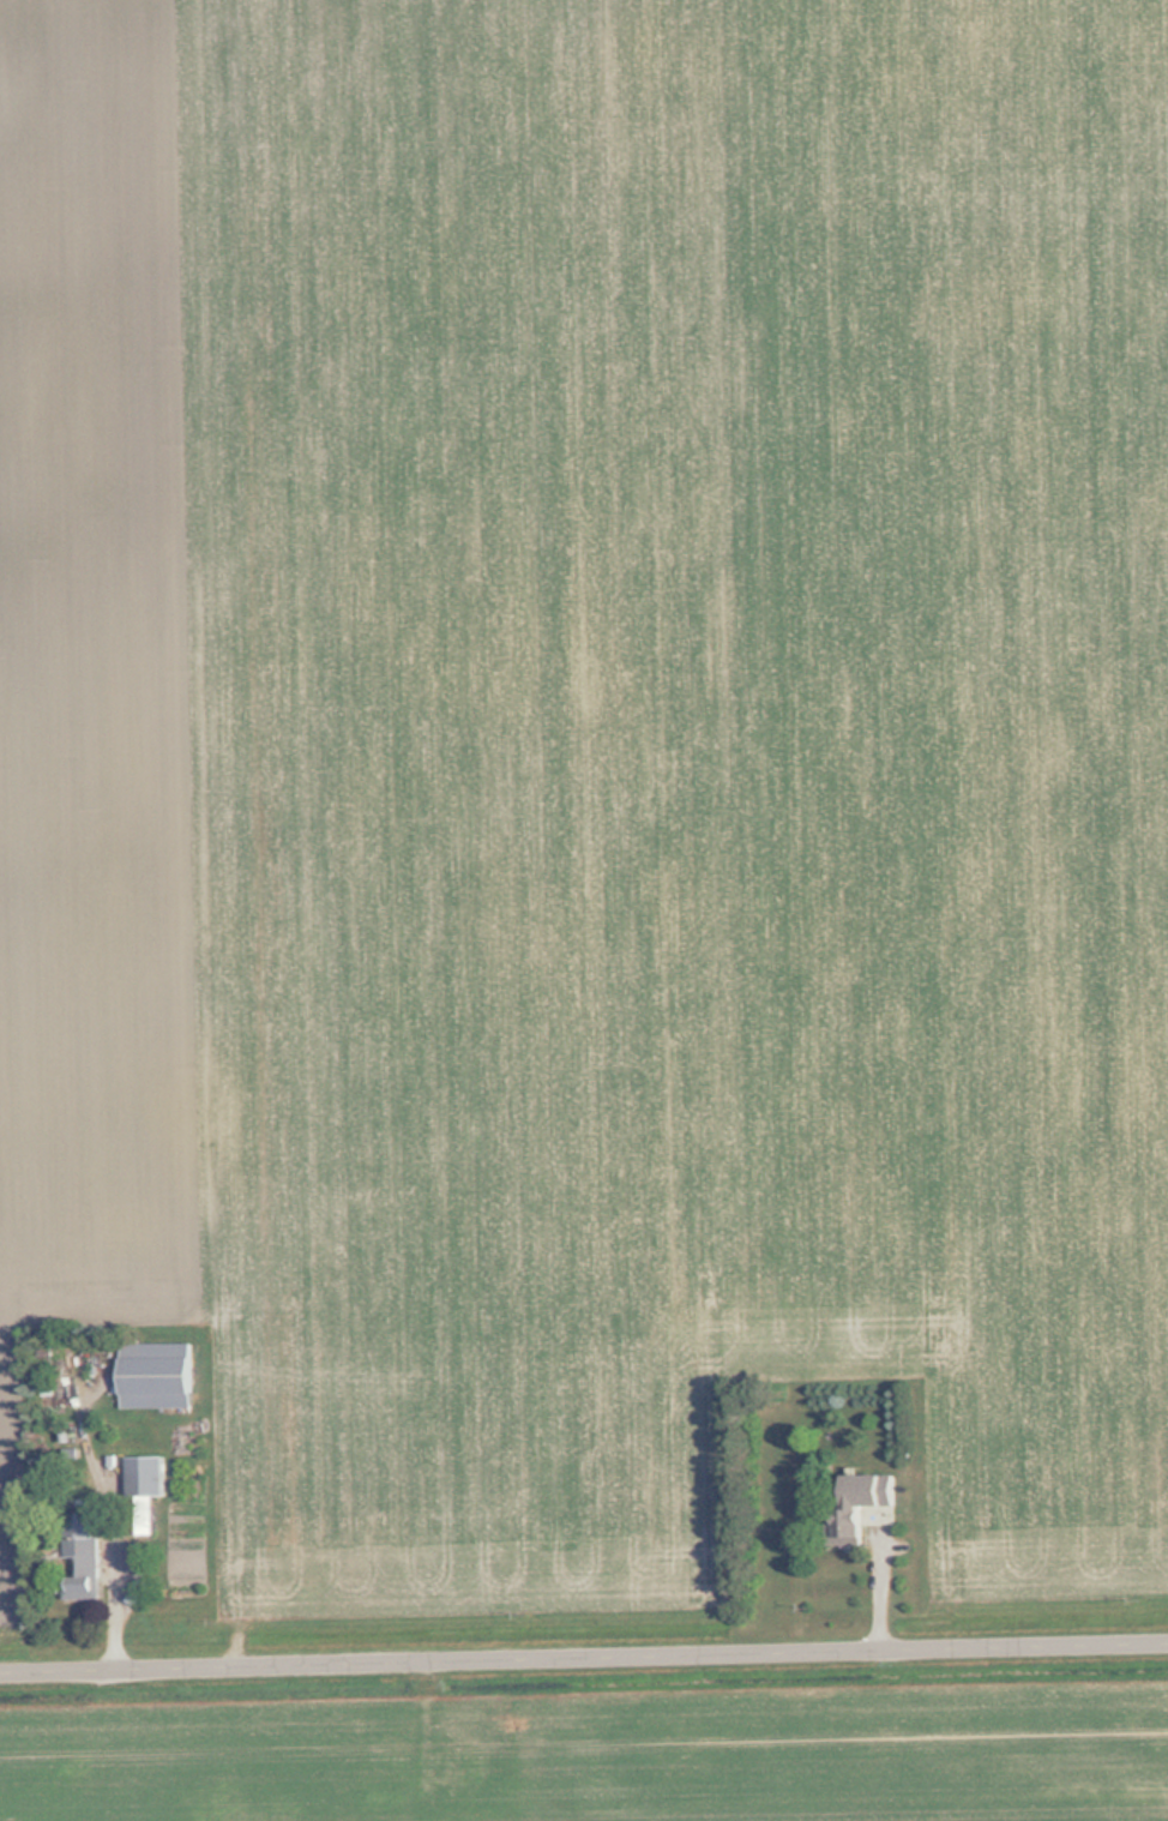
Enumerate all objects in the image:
building: (158, 1374)
building: (147, 1476)
building: (860, 1506)
building: (83, 1558)
road: (584, 1653)

